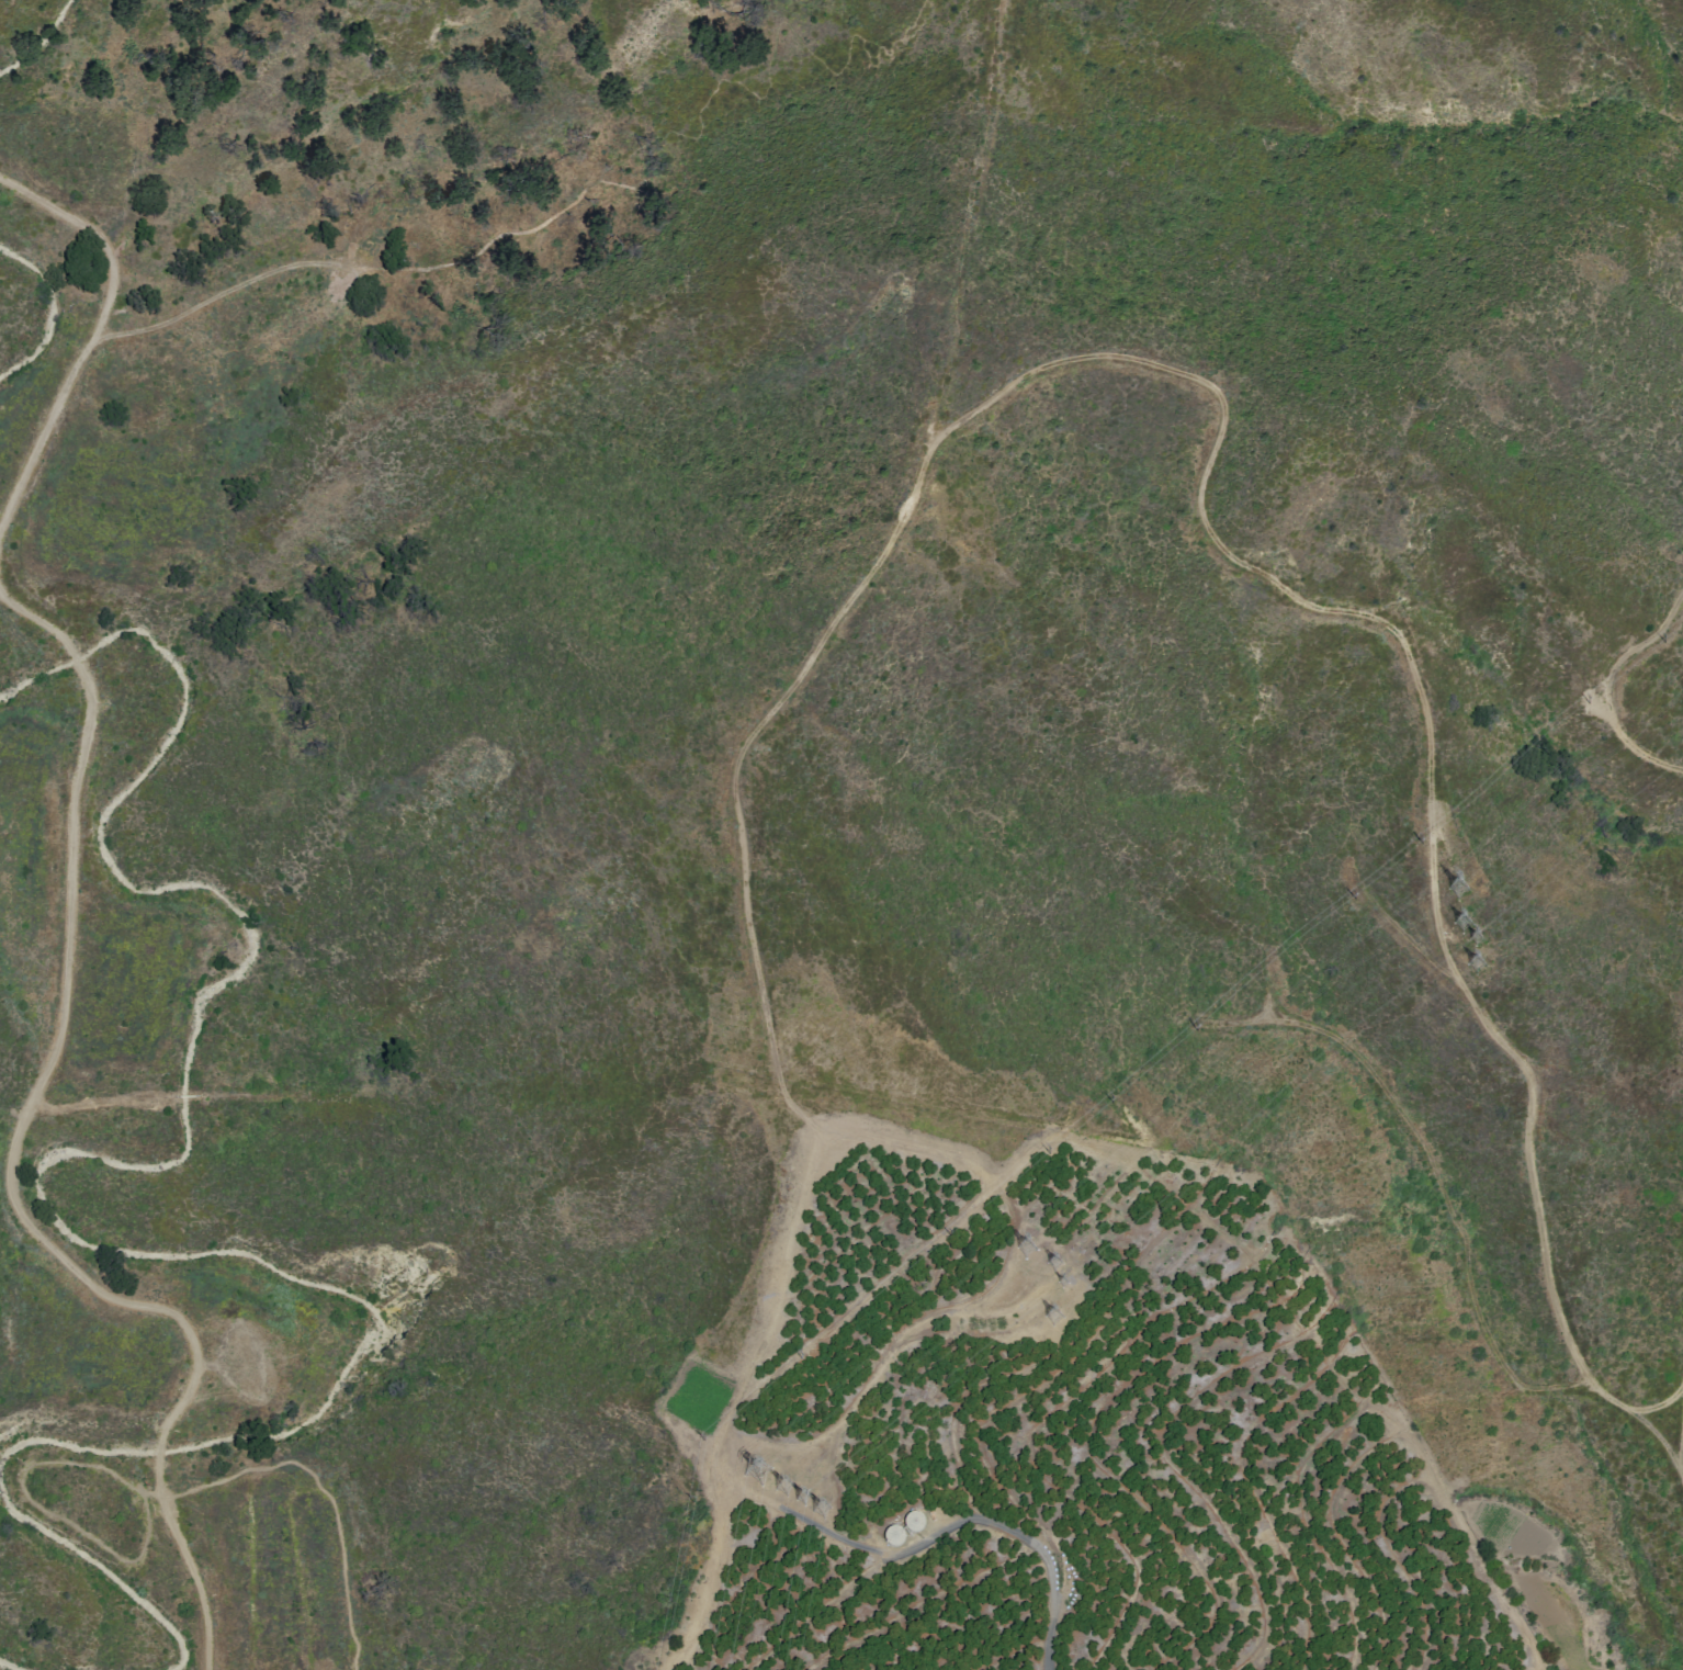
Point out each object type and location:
road: (182, 134)
road: (231, 216)
road: (359, 271)
road: (662, 346)
road: (471, 472)
power tower: (1465, 892)
road: (70, 923)
power tower: (1468, 925)
power tower: (1479, 940)
power tower: (1480, 967)
road: (335, 1031)
power tower: (1030, 1250)
power tower: (1055, 1264)
power tower: (1066, 1285)
power tower: (1055, 1318)
power tower: (760, 1475)
road: (326, 1488)
power tower: (786, 1490)
power tower: (803, 1500)
road: (27, 1501)
power tower: (822, 1512)
road: (1023, 1539)

